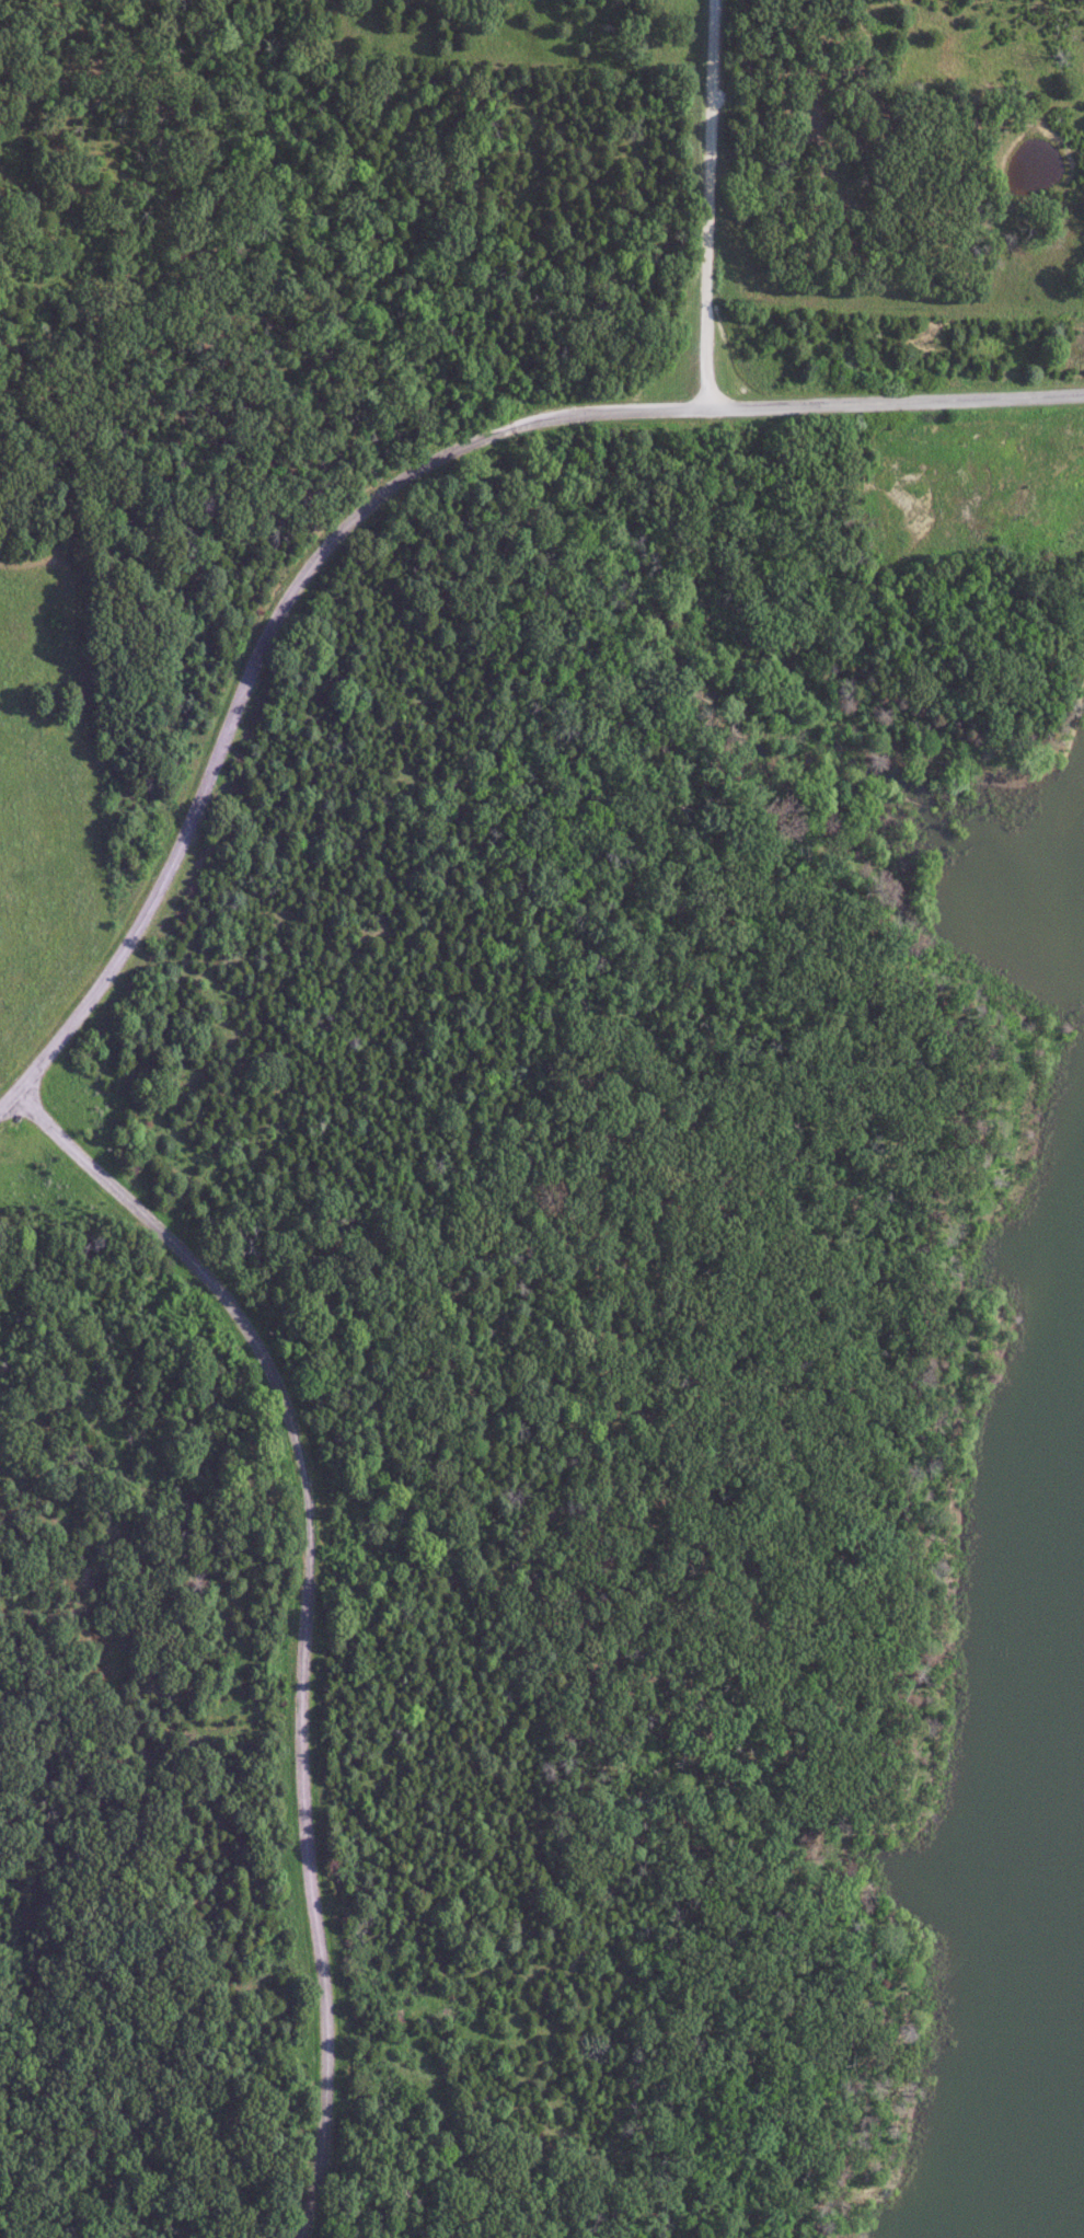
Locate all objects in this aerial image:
road: (701, 203)
road: (380, 494)
road: (302, 1612)

